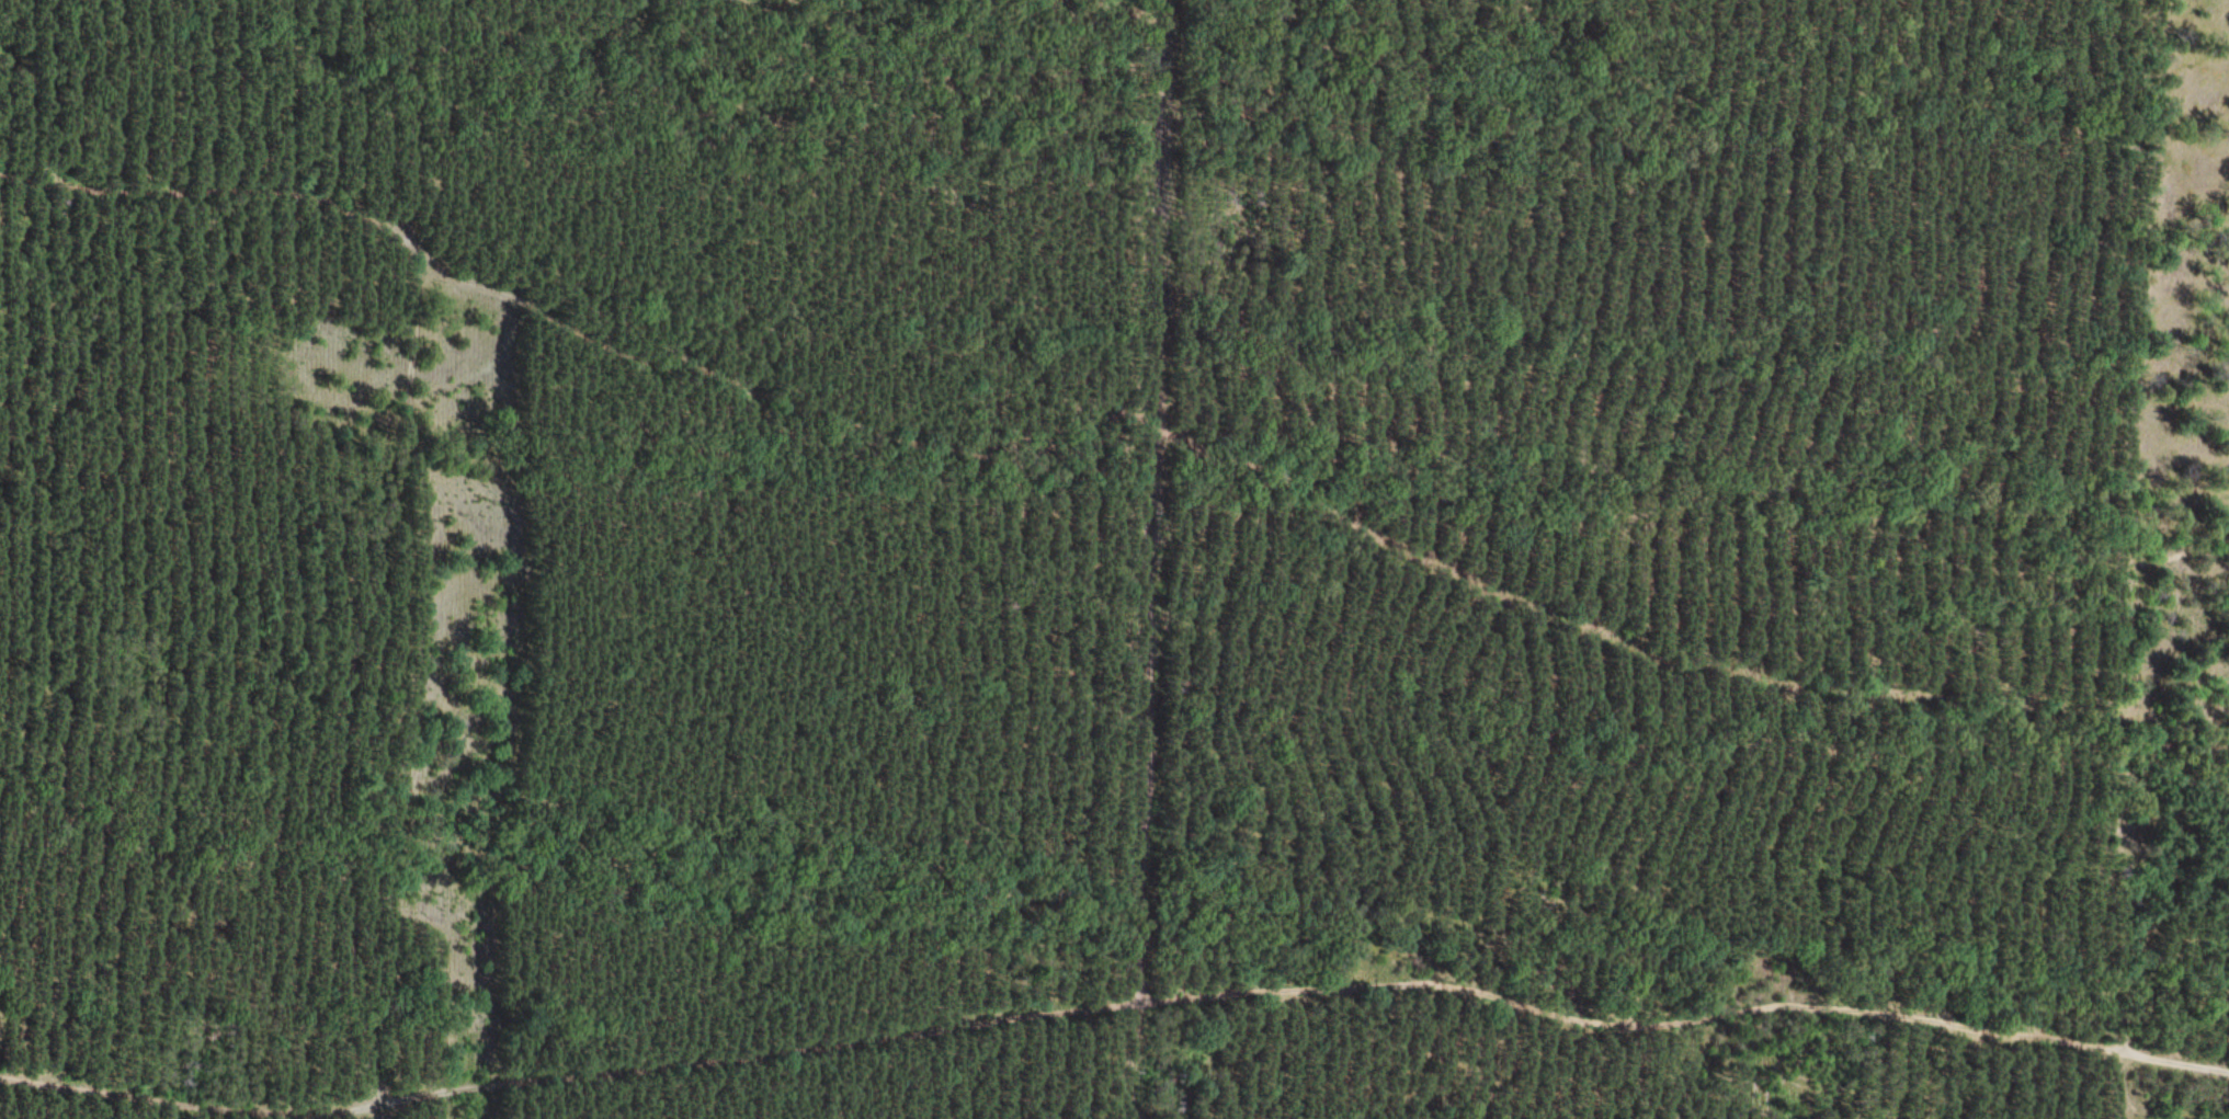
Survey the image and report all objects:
road: (407, 123)
road: (395, 480)
road: (1317, 505)
road: (1306, 993)
road: (190, 1092)

